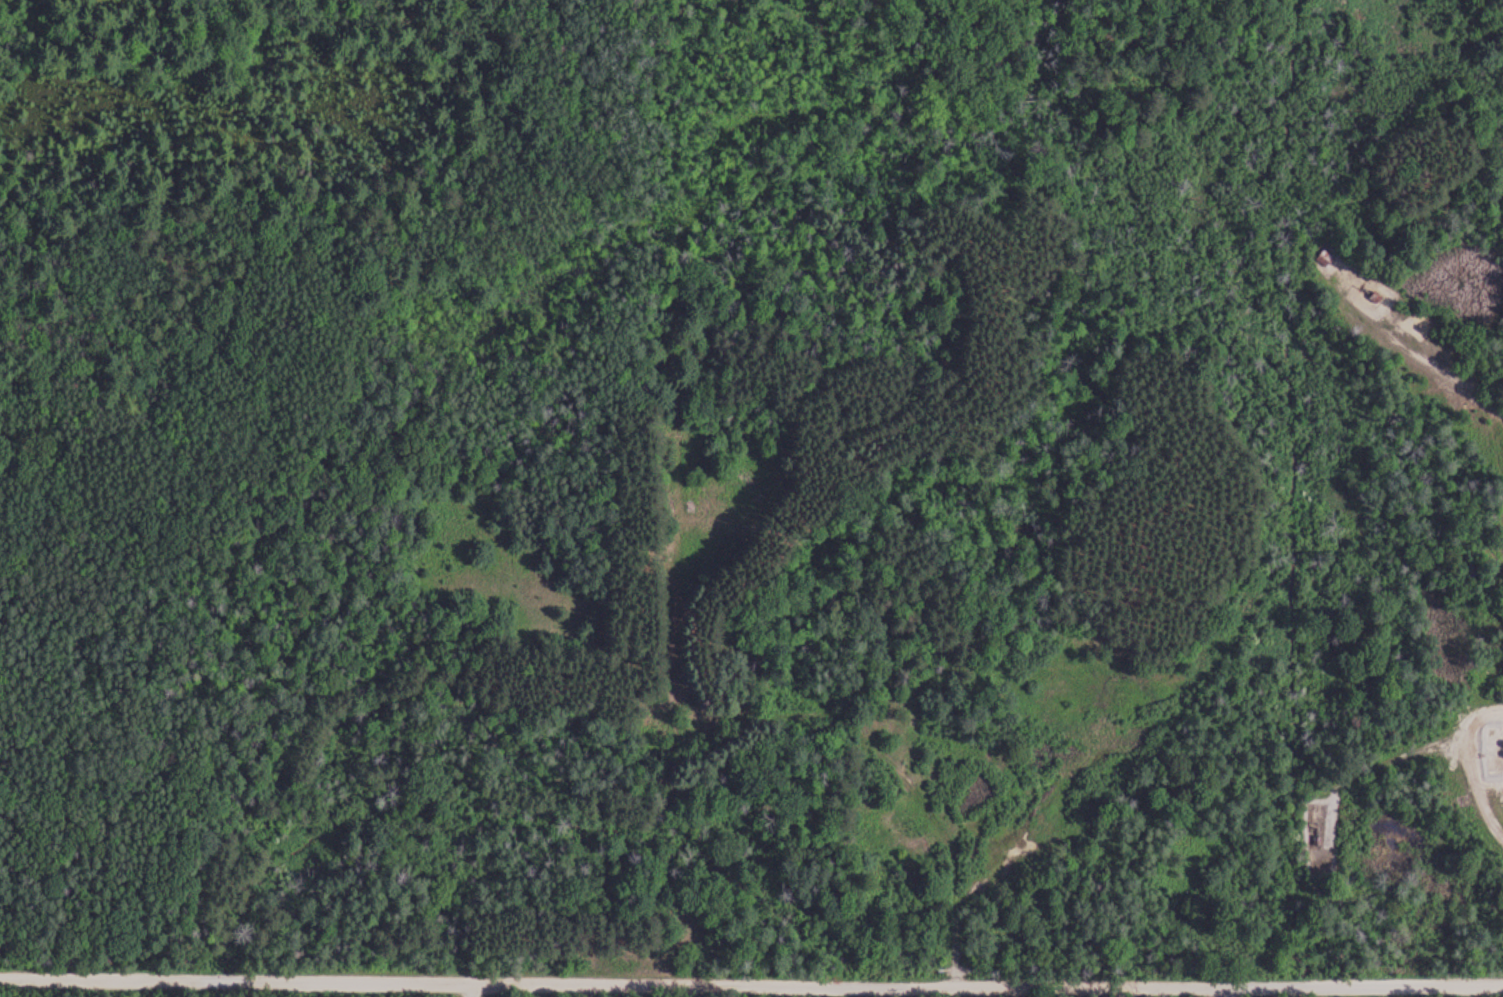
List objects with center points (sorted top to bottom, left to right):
building: (1326, 257)
petroleum well: (1369, 294)
road: (1329, 714)
road: (751, 983)
road: (1220, 991)

